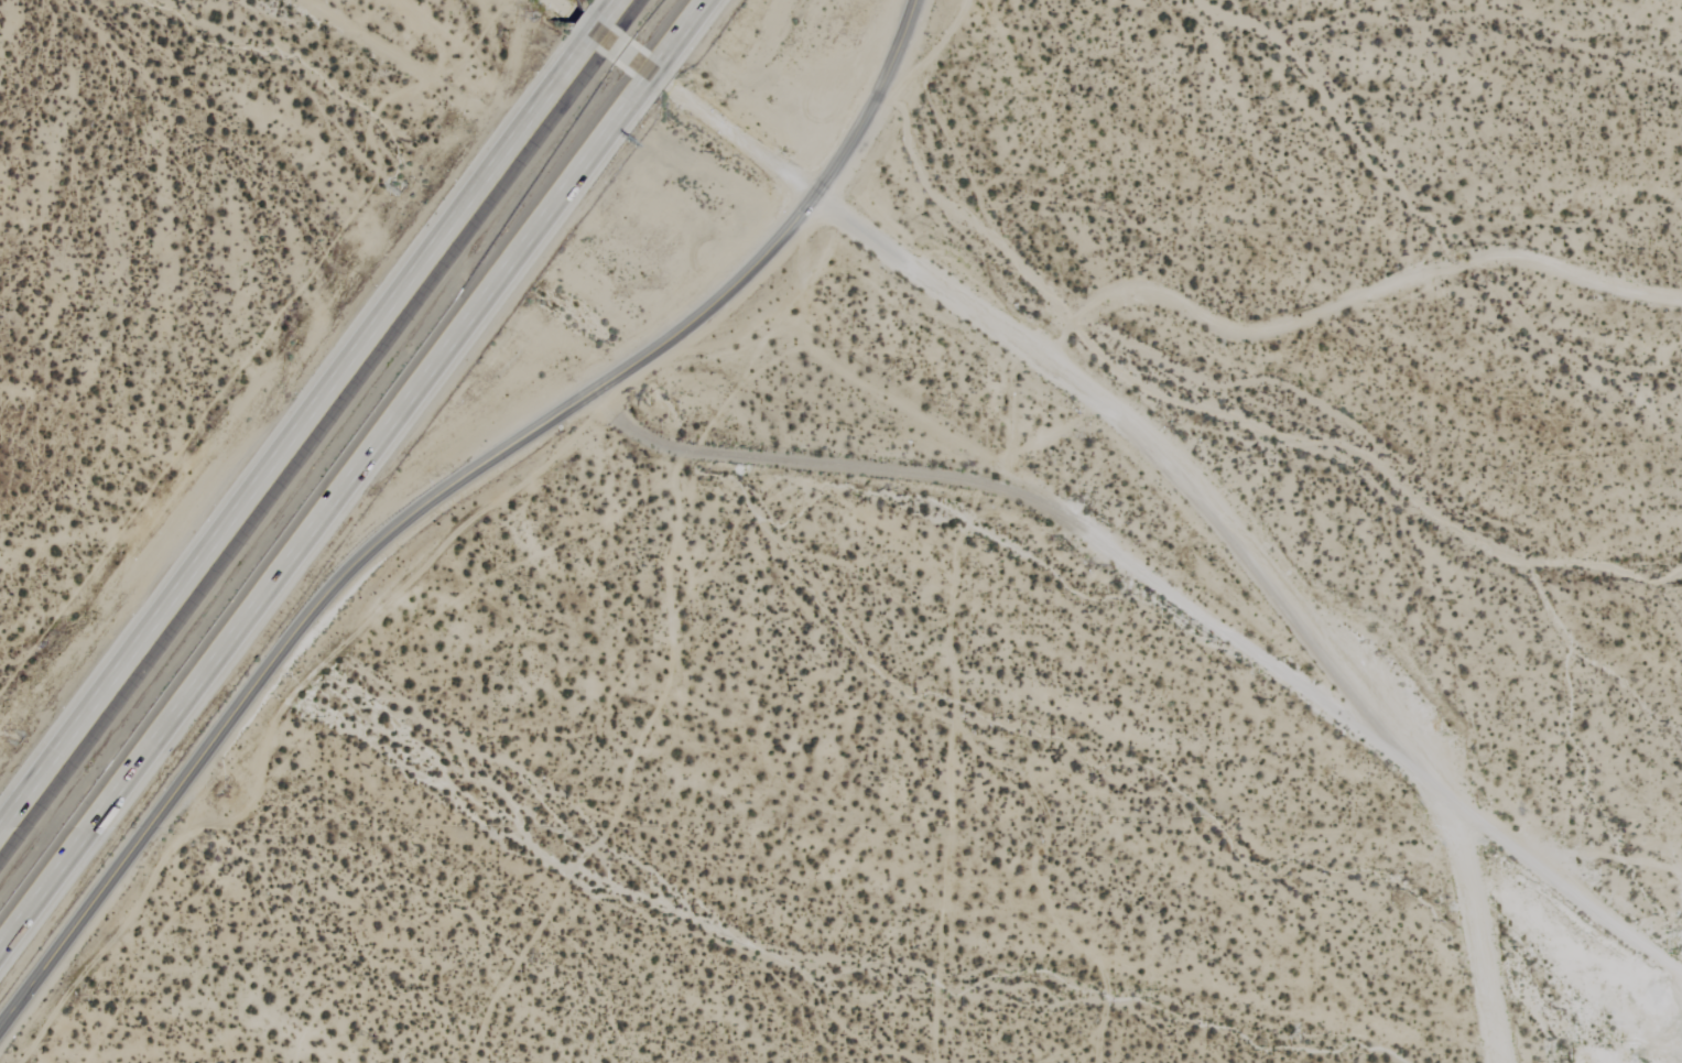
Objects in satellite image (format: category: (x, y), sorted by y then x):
road: (606, 9)
road: (680, 30)
road: (589, 32)
road: (648, 74)
road: (801, 183)
road: (1346, 301)
road: (289, 441)
railway: (332, 445)
road: (445, 491)
road: (318, 510)
road: (1349, 673)
quarry: (1661, 990)

